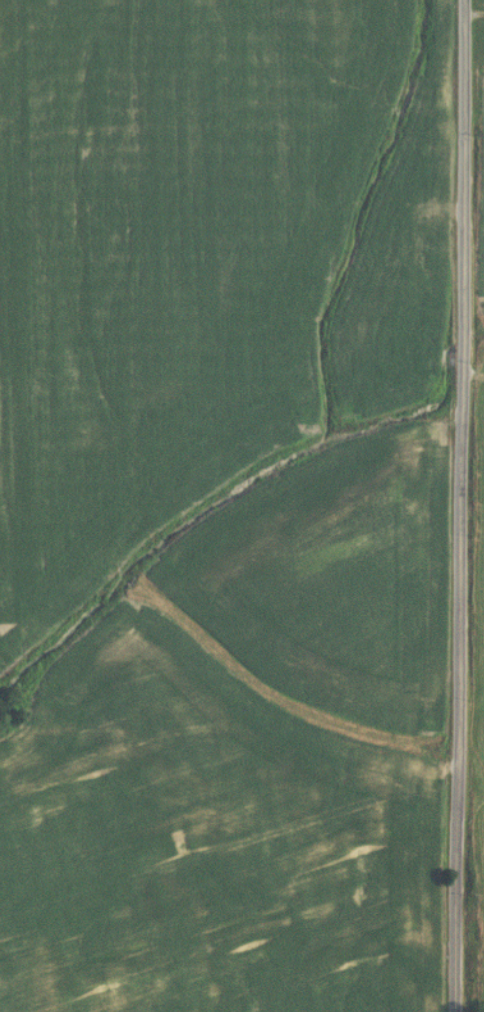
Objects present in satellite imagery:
road: (462, 506)

